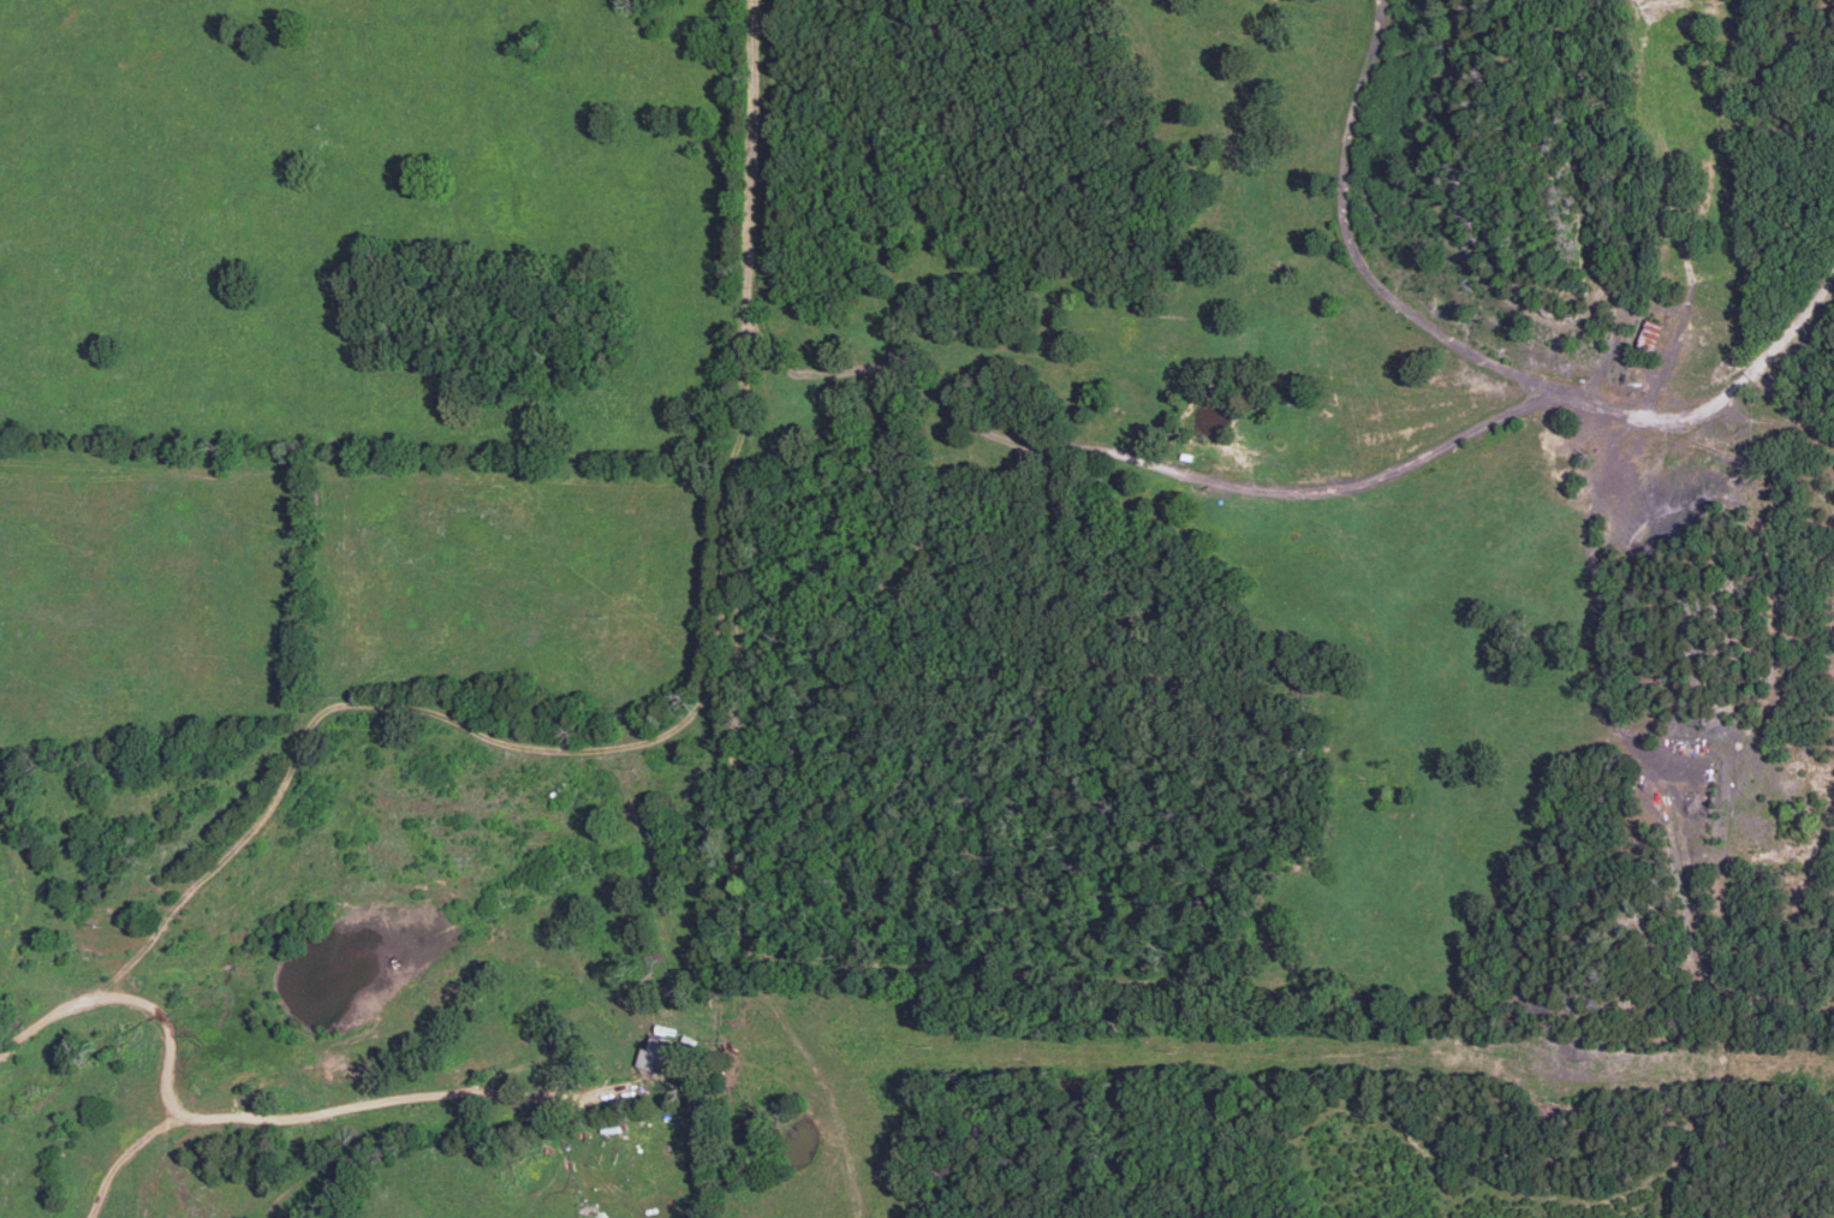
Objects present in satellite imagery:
road: (1346, 251)
building: (1648, 335)
road: (1717, 396)
road: (1154, 462)
road: (677, 726)
road: (44, 1018)
building: (655, 1054)
road: (168, 1095)
road: (393, 1099)

